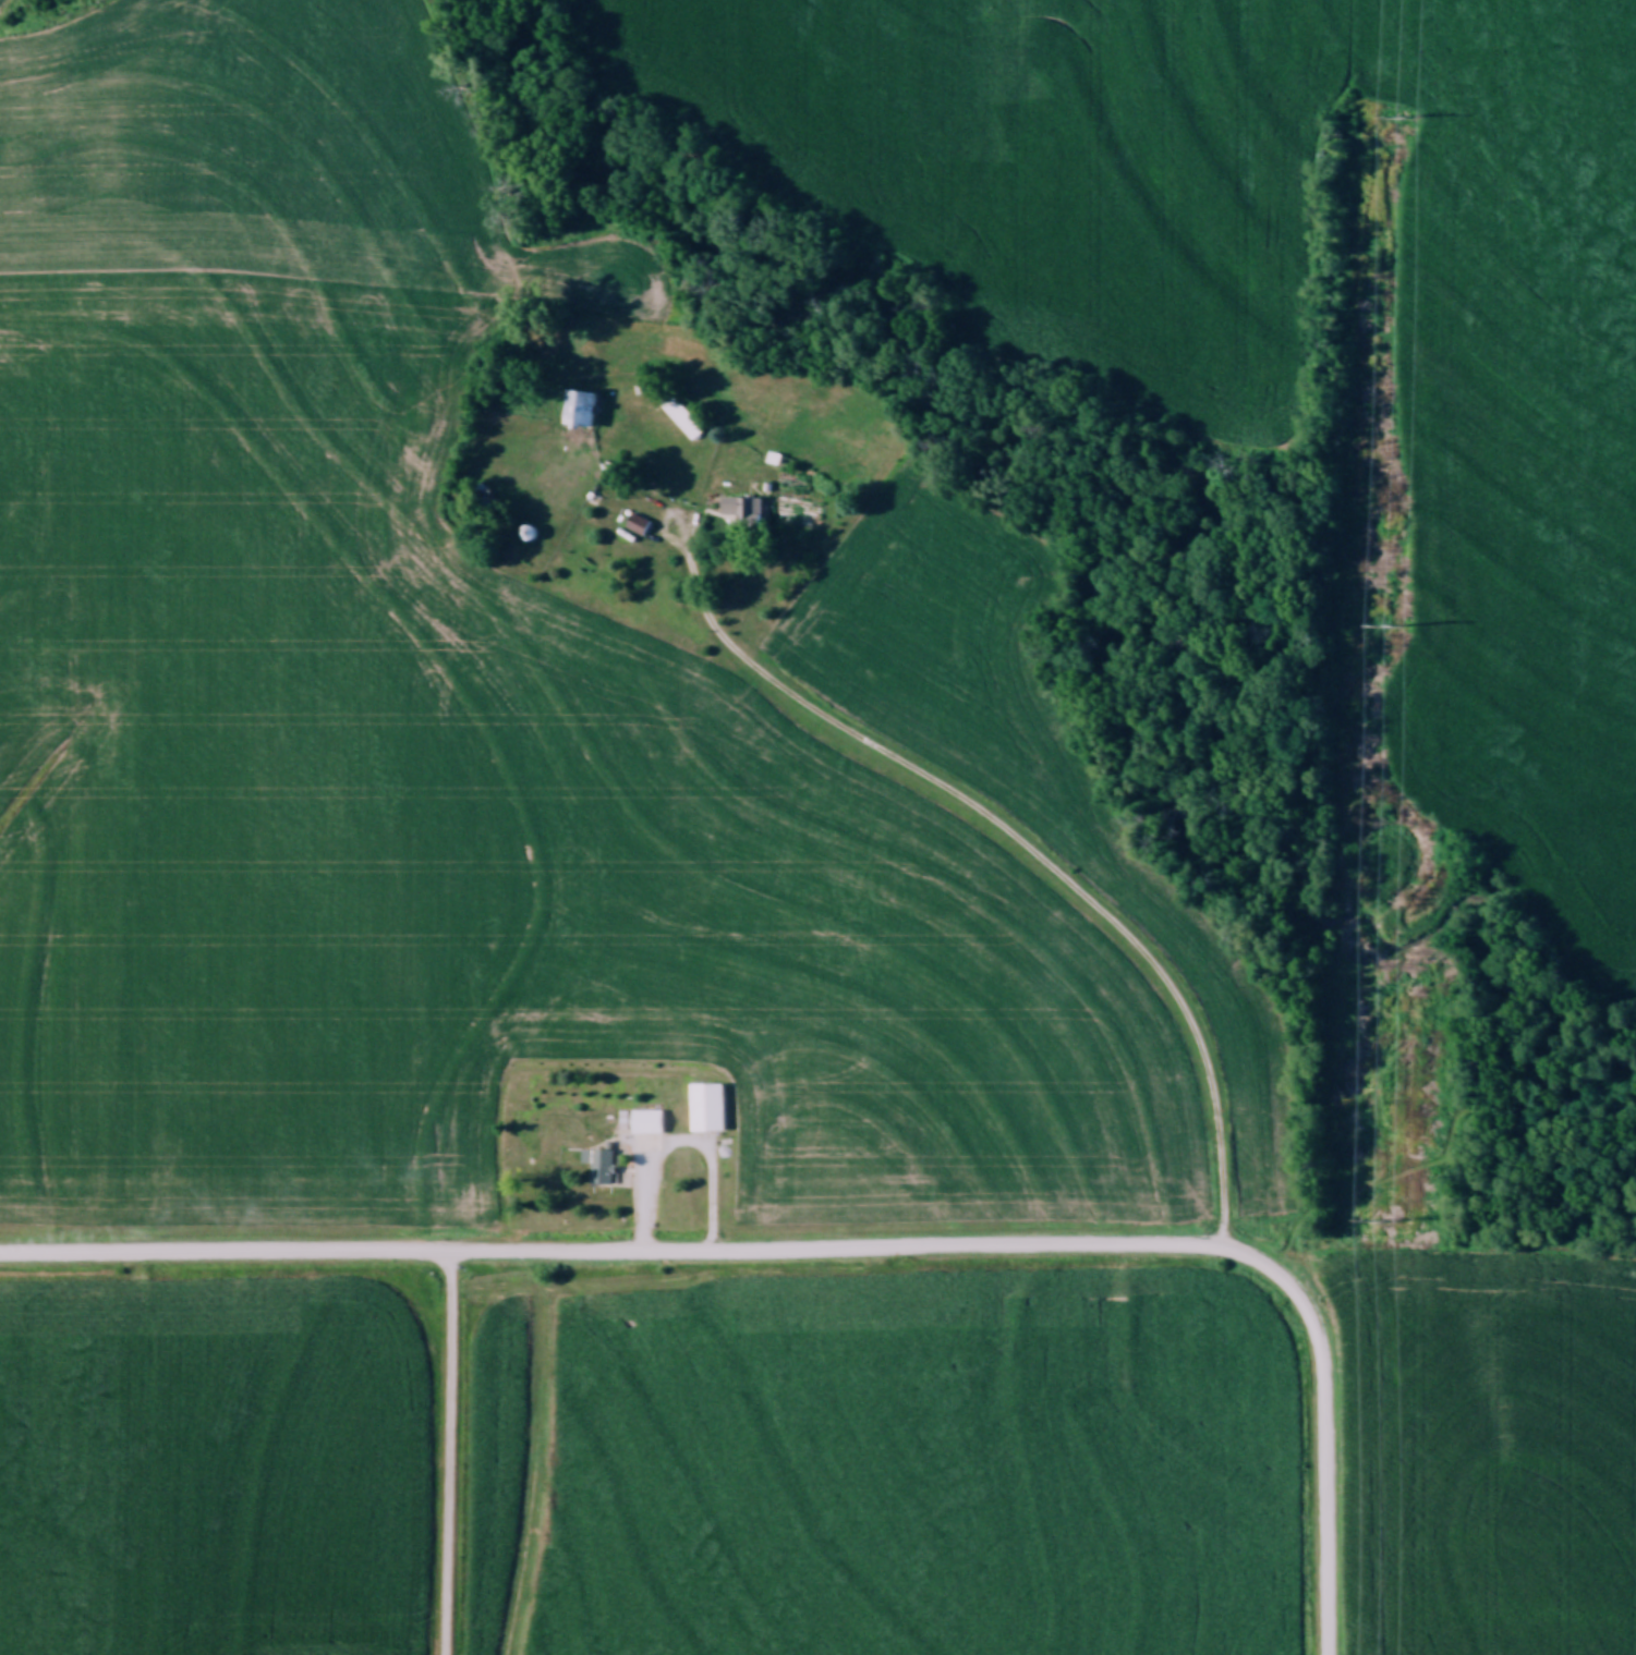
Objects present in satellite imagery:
power tower: (1399, 115)
building: (583, 406)
building: (687, 422)
building: (744, 506)
power tower: (1390, 629)
road: (1020, 842)
building: (714, 1109)
building: (652, 1119)
road: (679, 1144)
building: (604, 1166)
power tower: (1384, 1220)
road: (614, 1256)
road: (1328, 1429)
road: (441, 1455)

